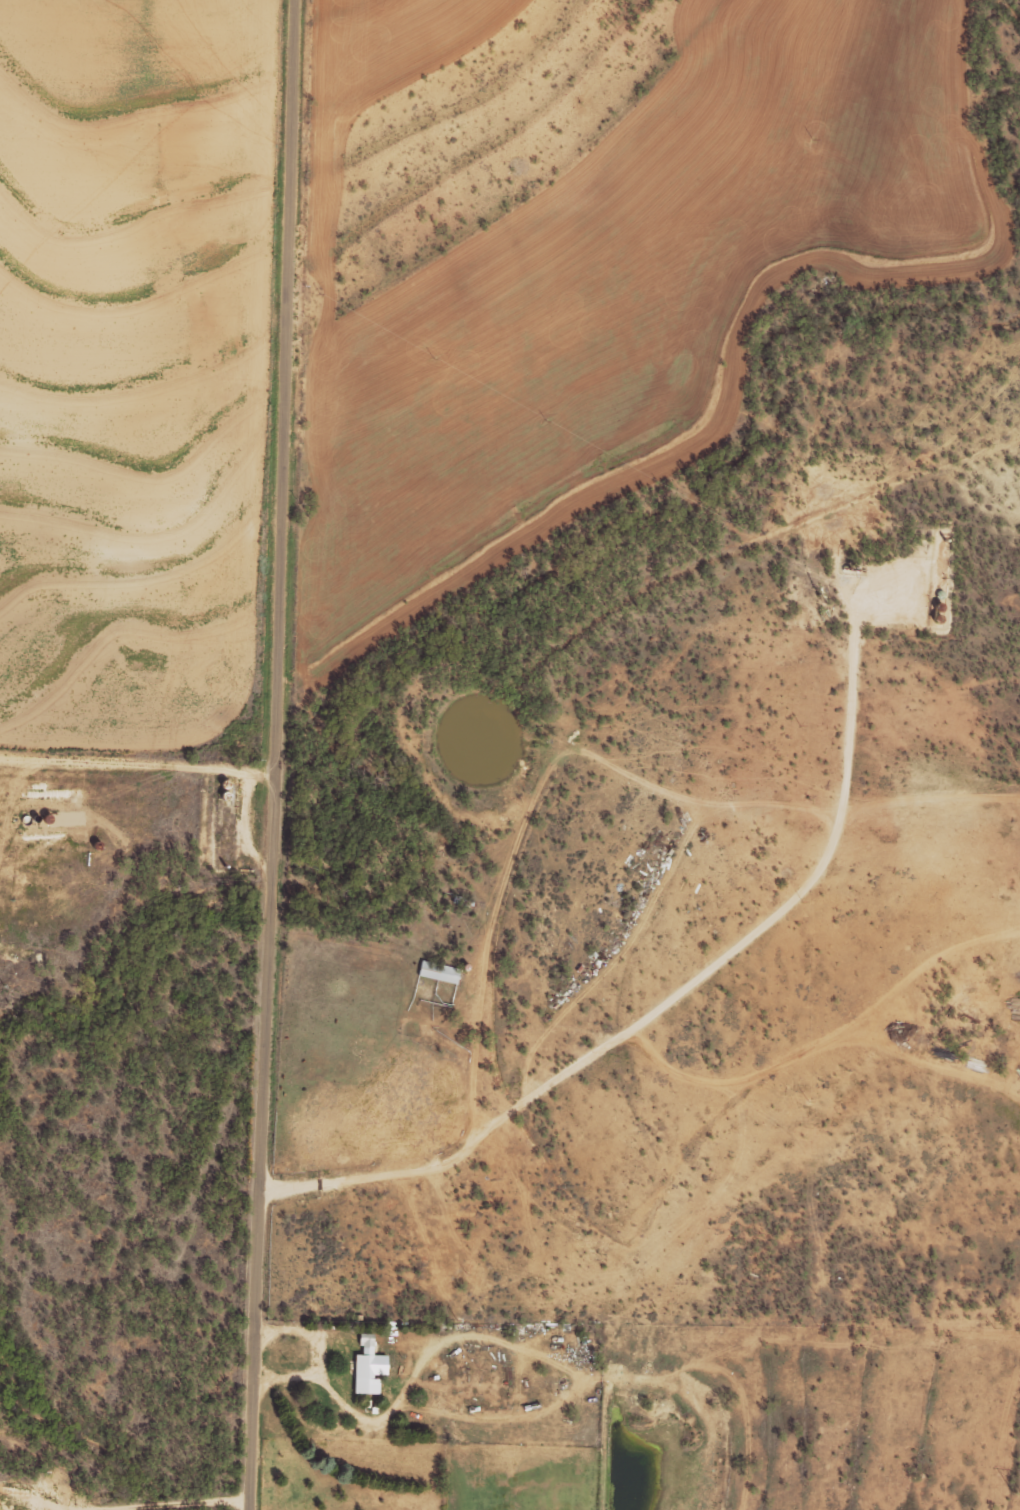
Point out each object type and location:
road: (217, 9)
road: (276, 755)
building: (437, 971)
building: (365, 1366)
power tower: (1017, 1491)

